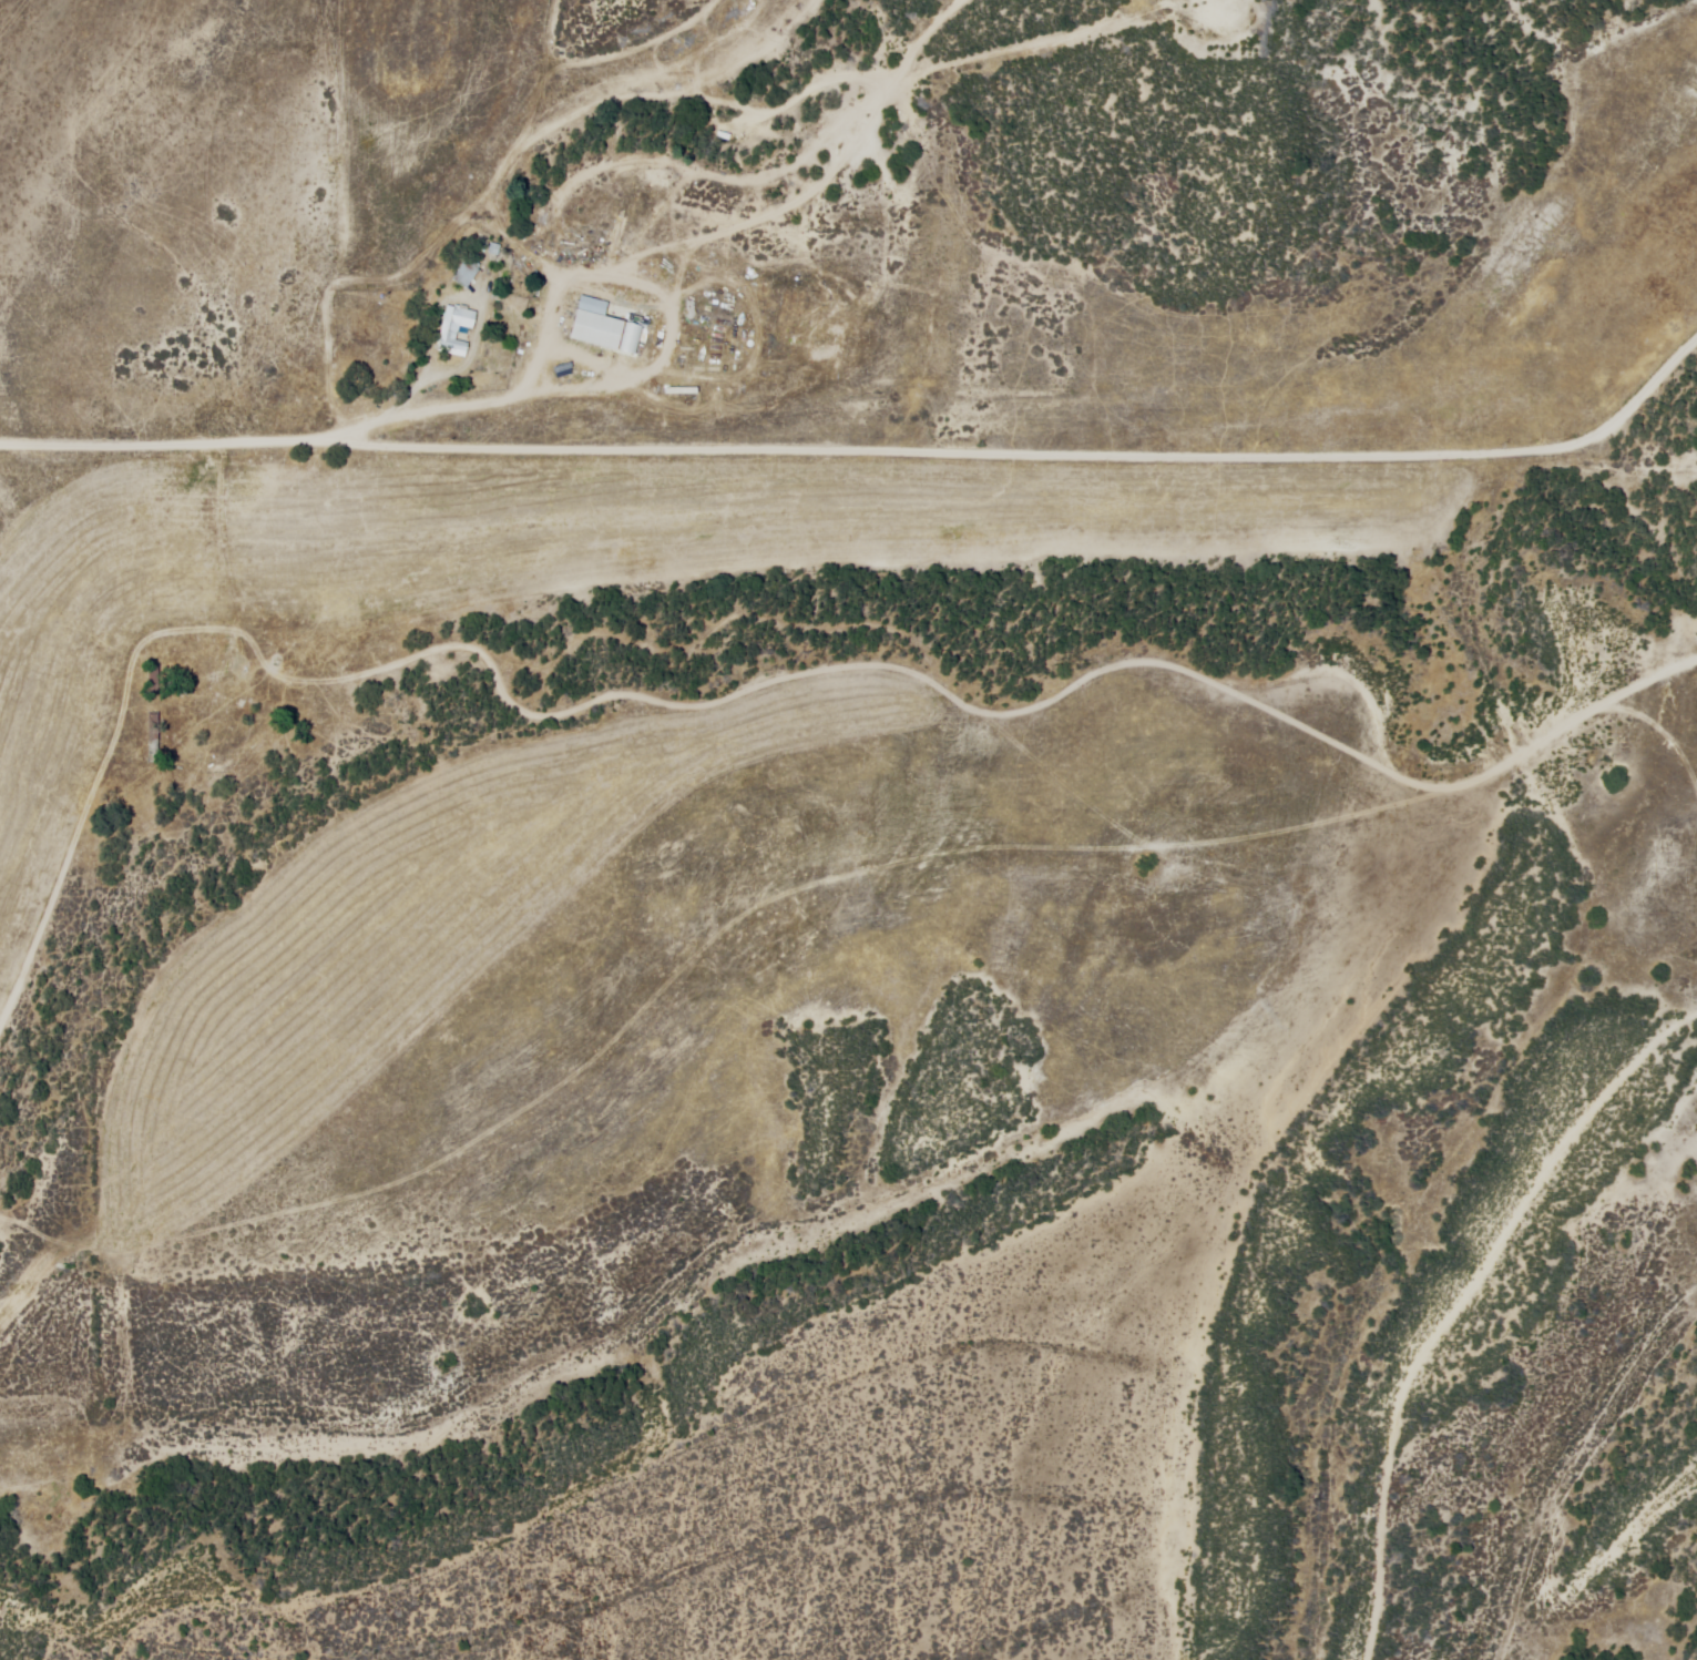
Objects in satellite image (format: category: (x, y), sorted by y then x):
building: (464, 271)
building: (595, 325)
building: (456, 328)
road: (1638, 410)
road: (875, 458)
road: (844, 654)
building: (226, 747)
road: (1063, 929)
road: (1399, 1028)

